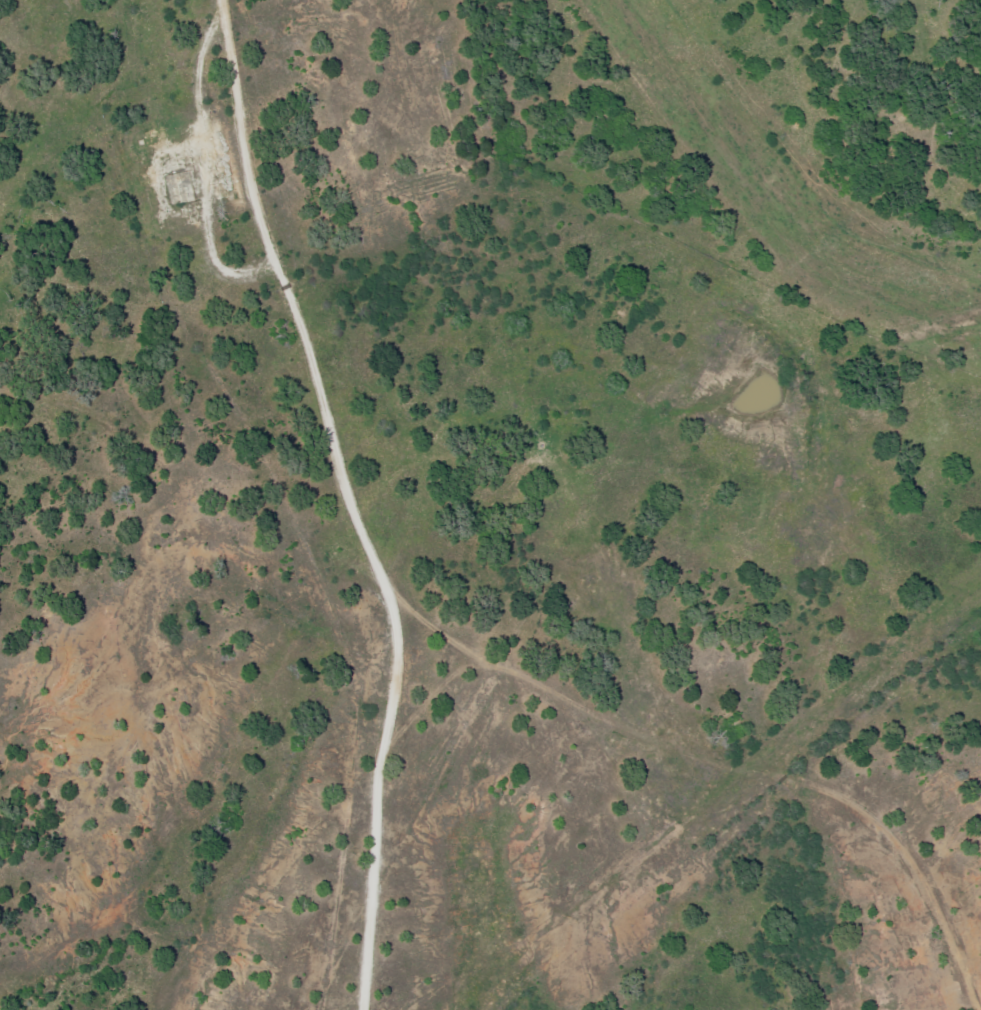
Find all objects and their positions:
road: (354, 504)

